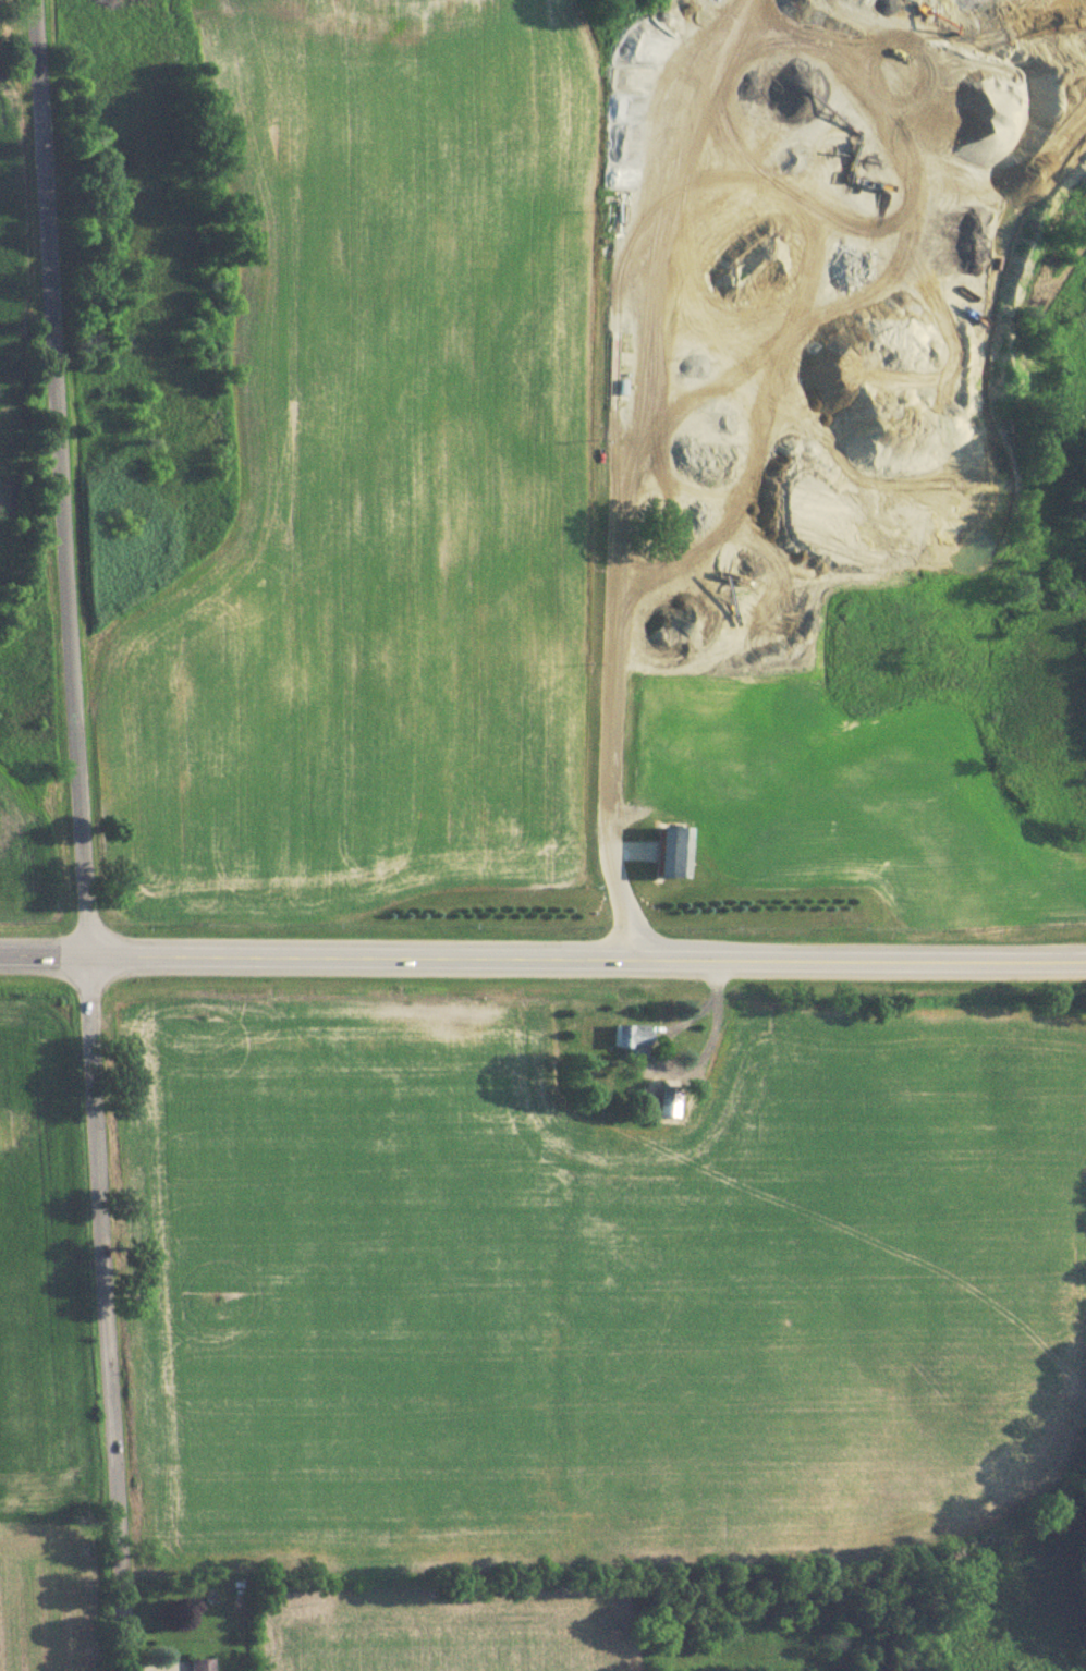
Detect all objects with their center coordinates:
road: (610, 608)
road: (81, 834)
building: (669, 851)
road: (44, 953)
road: (587, 959)
building: (627, 1038)
building: (666, 1099)
building: (609, 1107)
building: (198, 1664)

